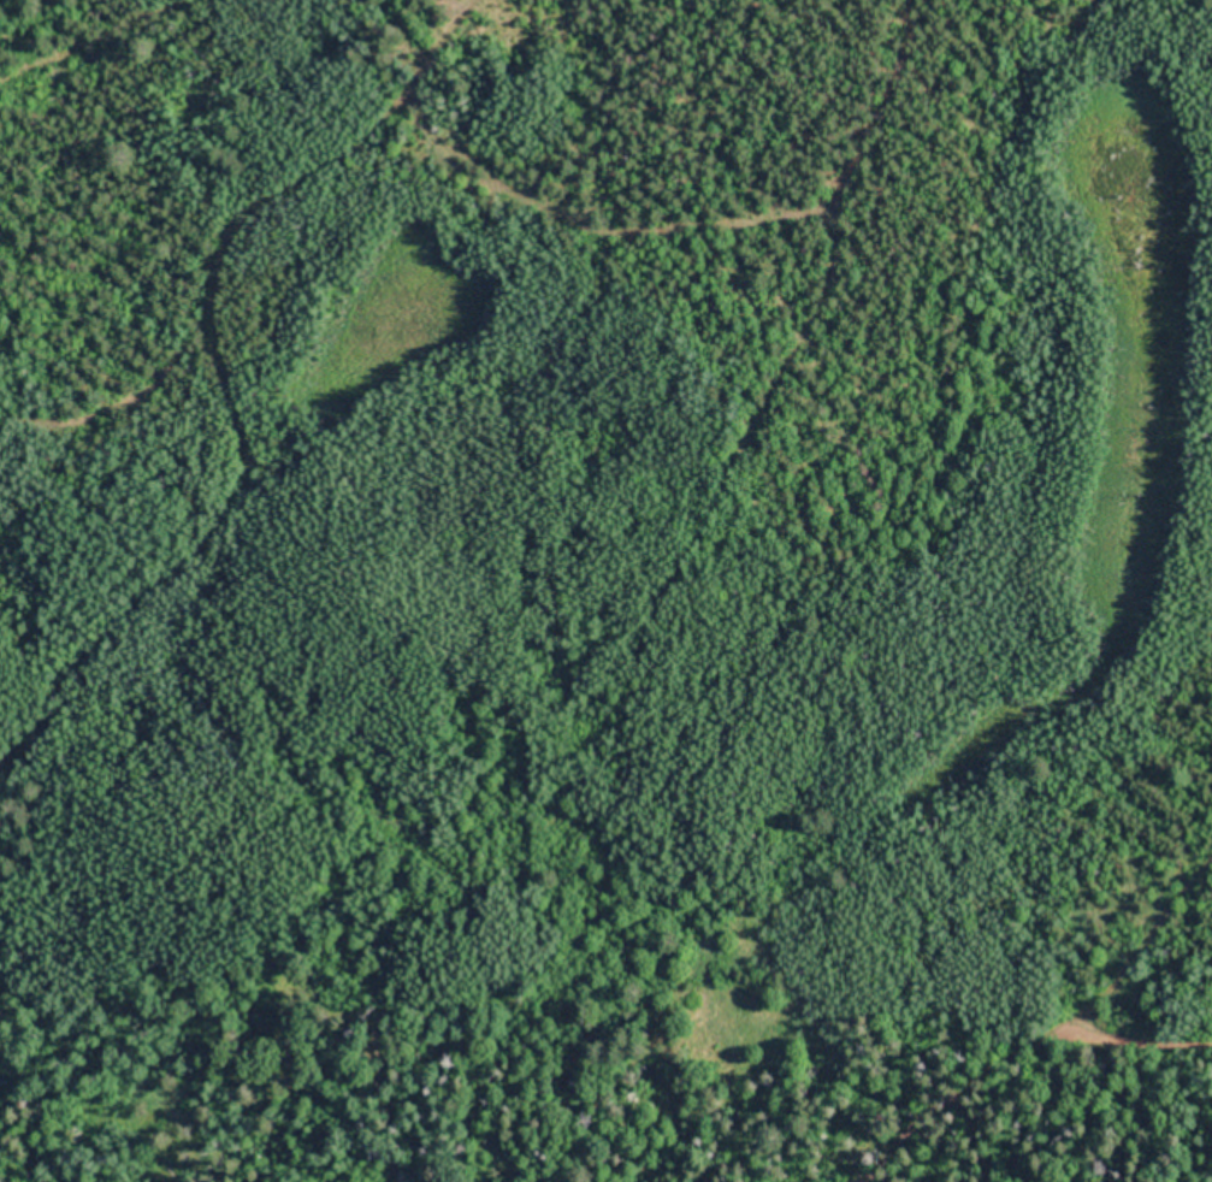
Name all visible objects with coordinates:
road: (1012, 995)

